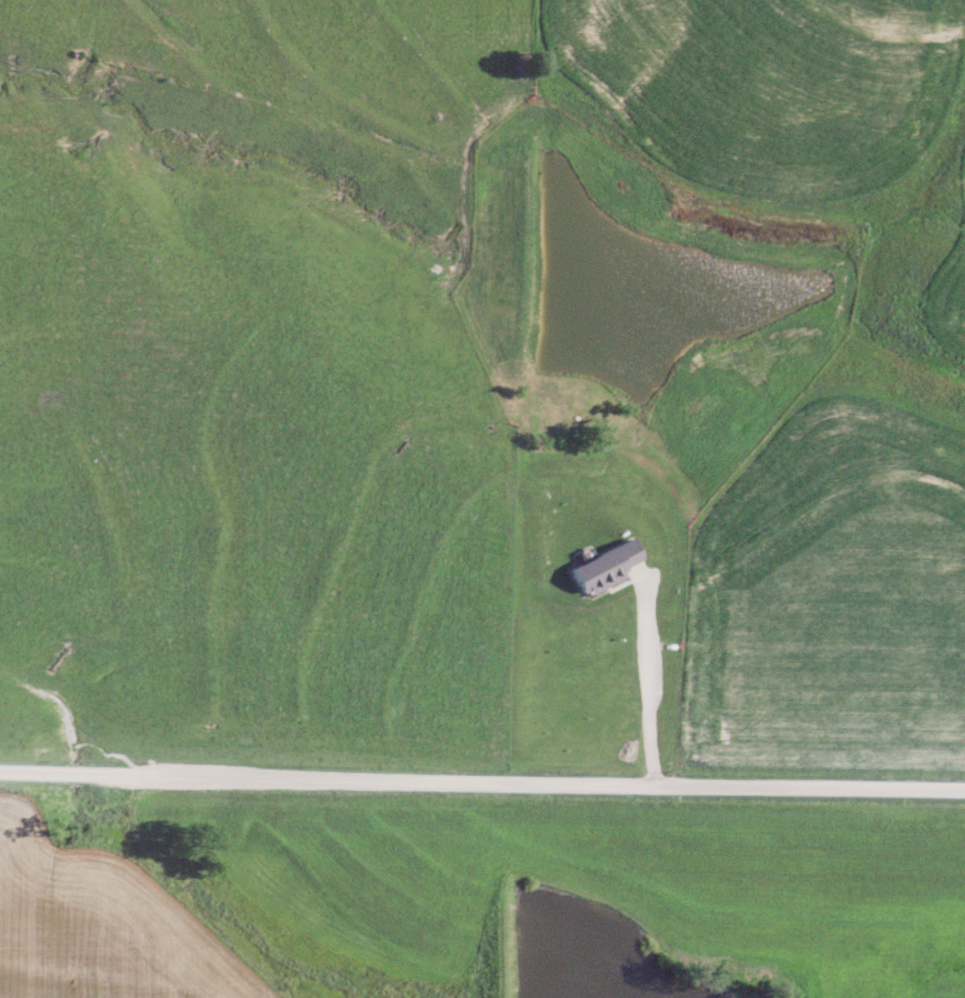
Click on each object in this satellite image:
building: (607, 566)
road: (482, 780)

